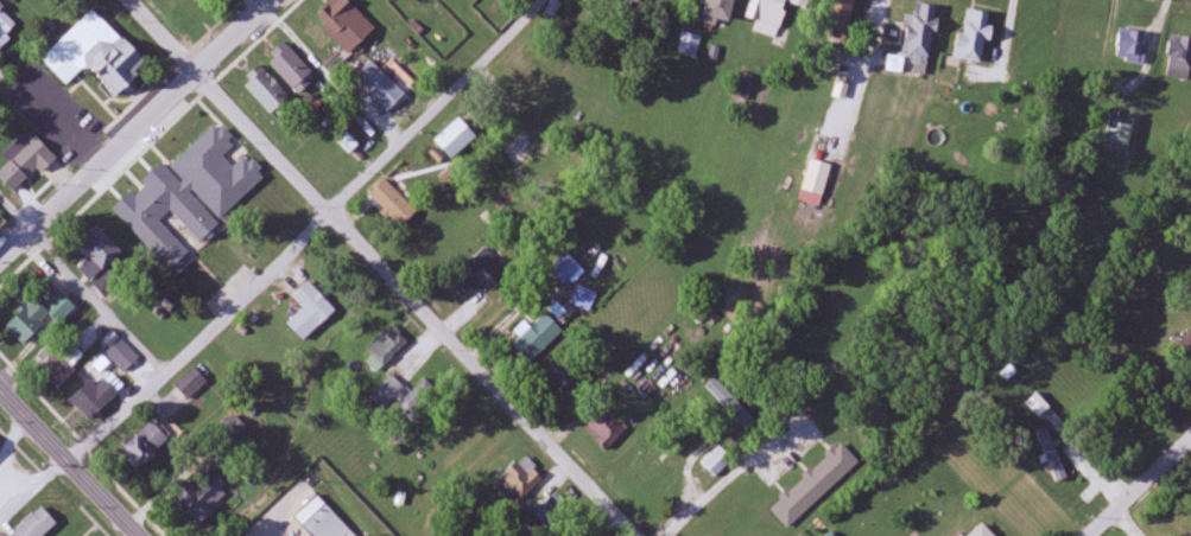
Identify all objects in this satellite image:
building: (591, 0)
building: (12, 1)
building: (629, 2)
building: (718, 12)
building: (842, 12)
building: (771, 17)
building: (343, 23)
building: (5, 26)
building: (920, 30)
building: (974, 36)
road: (872, 39)
building: (690, 44)
building: (1130, 45)
building: (1088, 46)
building: (95, 55)
building: (1179, 57)
building: (290, 68)
building: (380, 85)
building: (266, 90)
road: (137, 128)
building: (1120, 130)
building: (455, 139)
building: (204, 152)
building: (24, 160)
building: (816, 181)
building: (393, 202)
building: (141, 215)
road: (310, 232)
building: (100, 248)
road: (380, 268)
building: (566, 268)
building: (467, 277)
road: (82, 281)
building: (39, 311)
building: (310, 311)
building: (536, 338)
building: (386, 346)
building: (121, 355)
building: (55, 365)
building: (560, 376)
building: (191, 383)
road: (36, 388)
building: (726, 390)
building: (388, 391)
building: (93, 398)
building: (419, 398)
building: (1039, 404)
building: (607, 427)
building: (146, 444)
building: (1053, 453)
building: (717, 461)
road: (69, 462)
building: (521, 479)
road: (721, 483)
road: (1141, 490)
road: (33, 492)
road: (137, 496)
building: (202, 498)
building: (553, 511)
building: (321, 519)
building: (36, 524)
road: (1128, 524)
building: (1000, 535)

